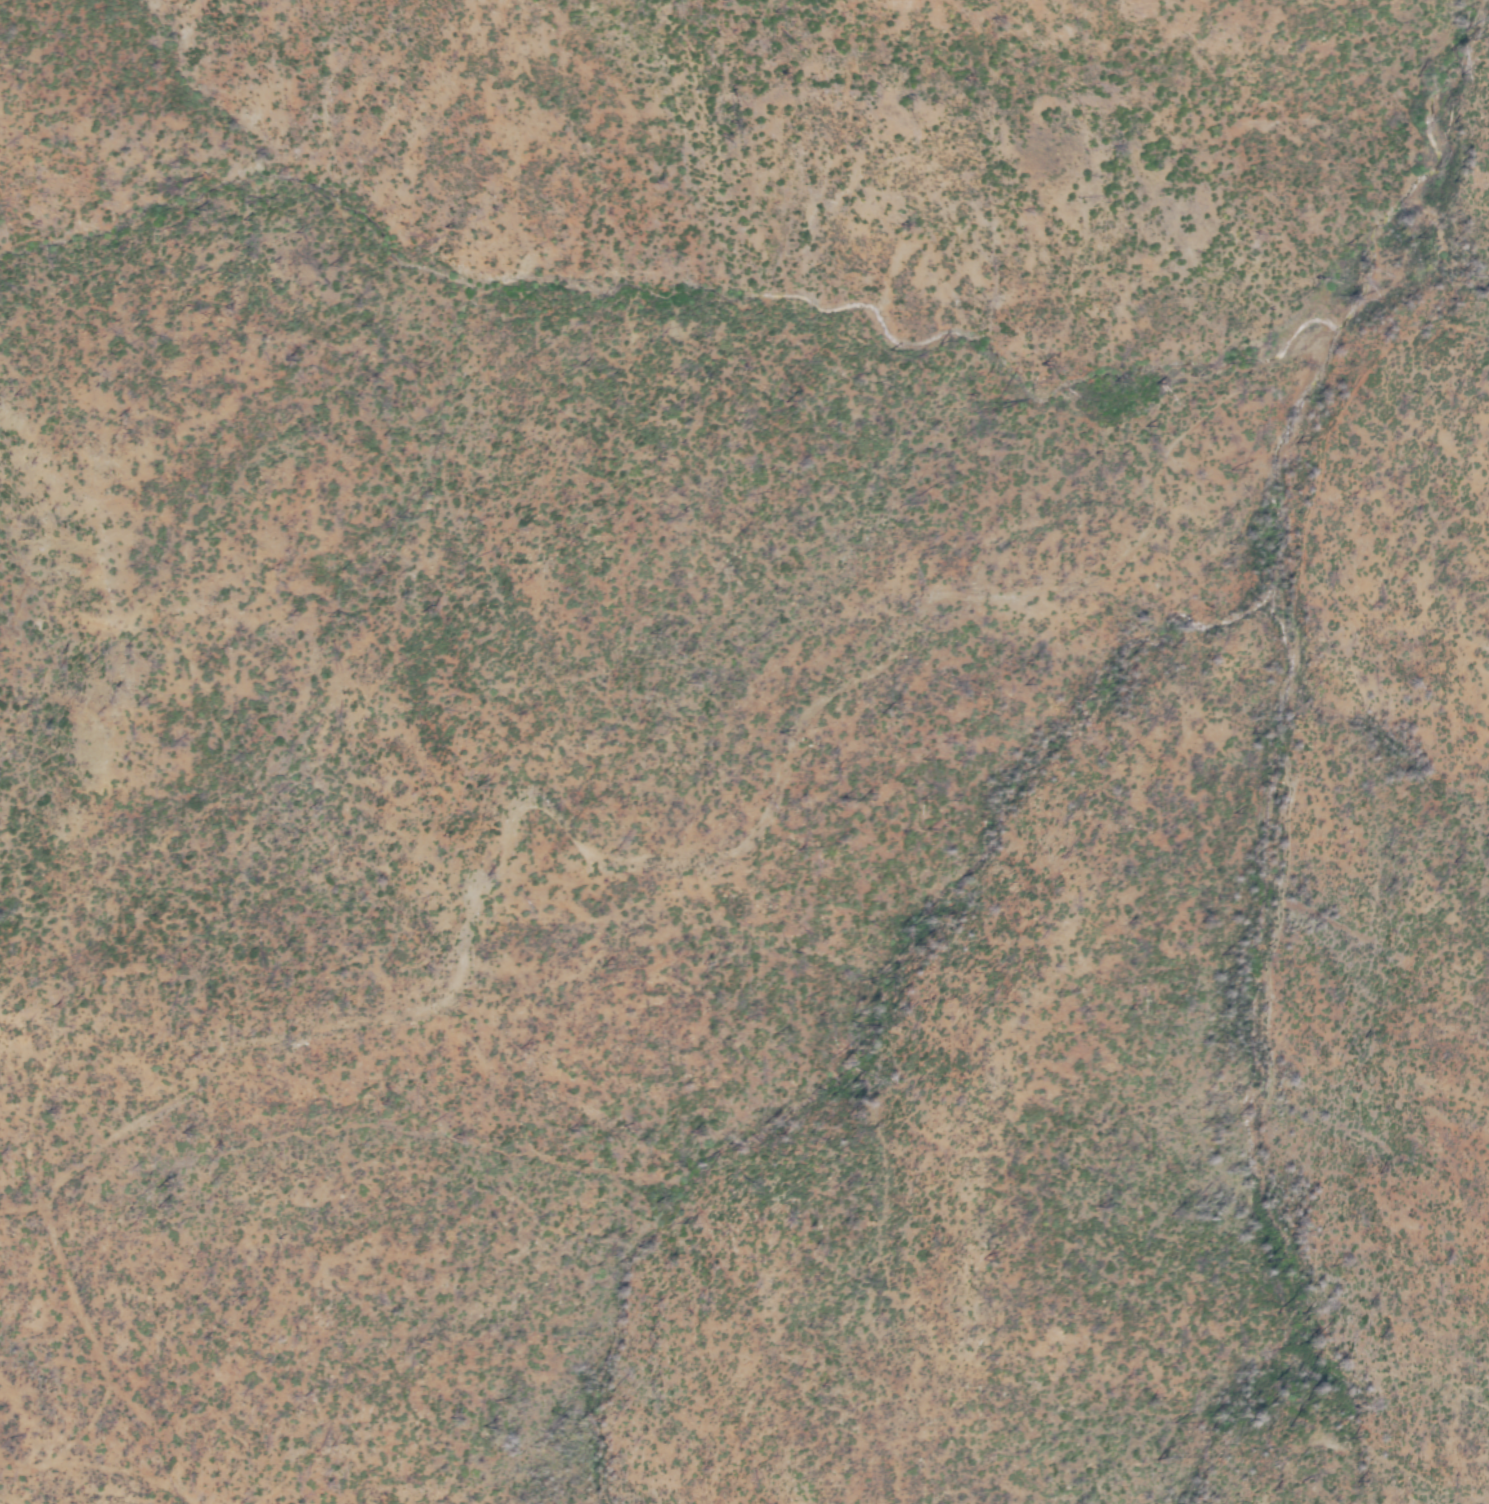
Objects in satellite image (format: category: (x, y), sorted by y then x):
road: (713, 858)
road: (1279, 866)
road: (54, 1242)
road: (97, 1469)
road: (275, 1489)

